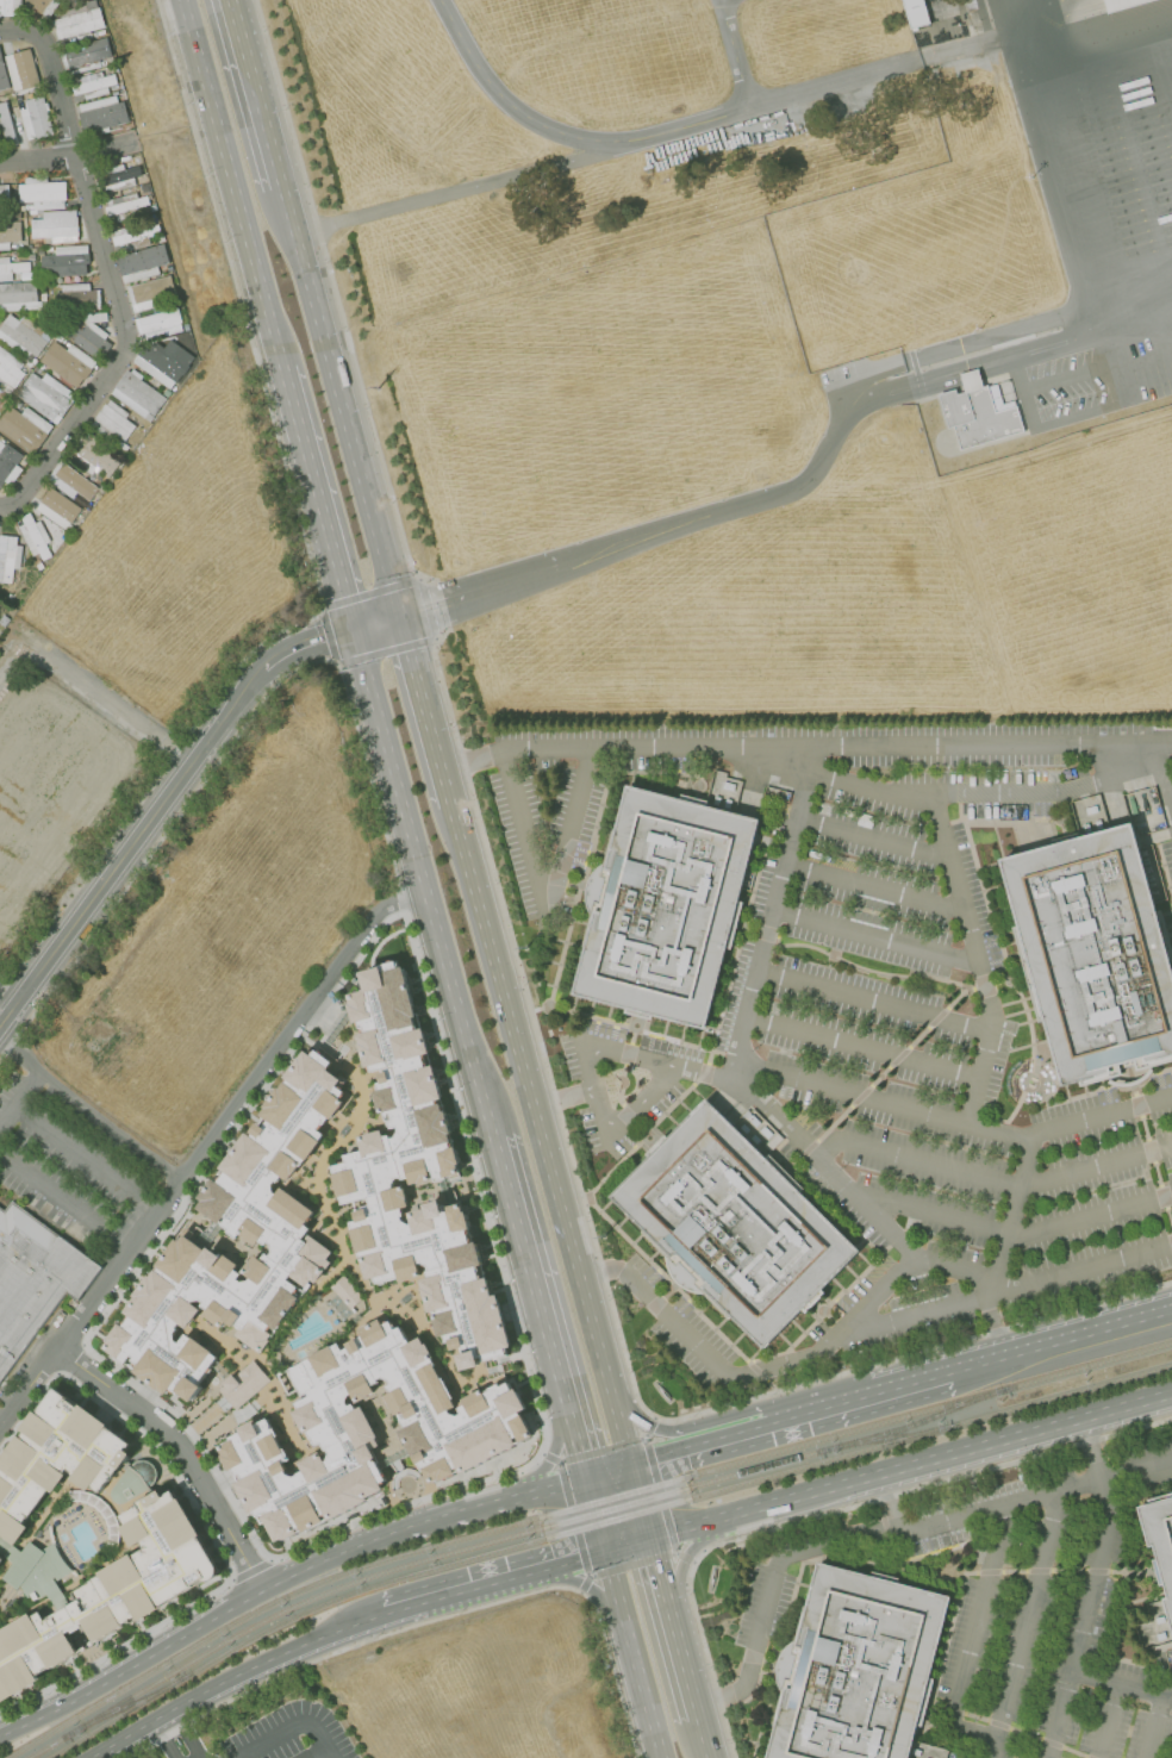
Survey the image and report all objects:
building: (1123, 4)
building: (11, 6)
building: (43, 6)
building: (916, 12)
building: (79, 23)
road: (965, 48)
road: (735, 54)
building: (86, 55)
road: (1098, 57)
building: (23, 69)
building: (4, 75)
road: (50, 75)
road: (1161, 75)
road: (835, 83)
building: (94, 85)
road: (254, 93)
building: (102, 113)
building: (36, 118)
building: (6, 124)
road: (567, 135)
road: (1042, 141)
road: (36, 155)
building: (120, 177)
road: (227, 182)
building: (4, 192)
building: (43, 193)
road: (448, 193)
building: (126, 206)
building: (56, 226)
building: (10, 230)
building: (133, 237)
building: (64, 261)
building: (142, 263)
building: (11, 268)
road: (1128, 268)
building: (151, 293)
building: (19, 295)
building: (77, 297)
road: (1091, 304)
building: (158, 324)
building: (89, 335)
building: (21, 336)
road: (123, 348)
road: (1002, 354)
building: (68, 362)
building: (164, 362)
building: (10, 370)
building: (36, 370)
power tower: (381, 391)
building: (138, 394)
building: (46, 395)
road: (337, 401)
building: (977, 413)
building: (112, 422)
building: (25, 428)
building: (93, 456)
building: (8, 462)
building: (71, 481)
road: (316, 498)
building: (56, 507)
road: (672, 526)
building: (35, 536)
road: (306, 546)
building: (8, 557)
building: (39, 563)
building: (4, 619)
road: (374, 623)
traffic signals: (374, 624)
road: (303, 646)
road: (422, 710)
road: (804, 749)
road: (1162, 778)
road: (1170, 792)
road: (979, 794)
road: (567, 835)
road: (523, 836)
road: (872, 840)
road: (129, 847)
road: (422, 885)
road: (873, 890)
building: (665, 906)
road: (964, 915)
road: (771, 916)
road: (875, 940)
power tower: (525, 948)
building: (1095, 953)
road: (519, 968)
road: (8, 997)
road: (873, 1004)
parking lot: (866, 1009)
road: (311, 1028)
road: (861, 1051)
road: (677, 1070)
road: (979, 1074)
road: (593, 1092)
road: (454, 1093)
road: (562, 1099)
road: (19, 1101)
road: (881, 1104)
road: (640, 1105)
road: (91, 1110)
road: (1102, 1117)
road: (538, 1136)
road: (204, 1147)
road: (85, 1160)
road: (915, 1161)
road: (1096, 1167)
building: (413, 1176)
road: (840, 1183)
road: (64, 1204)
road: (1014, 1210)
road: (935, 1217)
road: (1090, 1221)
building: (734, 1224)
building: (263, 1226)
power tower: (601, 1236)
road: (962, 1274)
building: (33, 1278)
road: (530, 1278)
building: (348, 1292)
road: (1002, 1295)
road: (285, 1328)
road: (1098, 1329)
road: (996, 1358)
road: (518, 1359)
railway: (1091, 1367)
road: (743, 1376)
building: (244, 1384)
road: (279, 1389)
railway: (1062, 1396)
road: (837, 1404)
railway: (915, 1425)
road: (649, 1426)
road: (386, 1428)
road: (655, 1428)
building: (366, 1430)
road: (210, 1435)
railway: (886, 1439)
road: (185, 1448)
road: (576, 1448)
road: (600, 1450)
building: (49, 1455)
road: (669, 1457)
road: (549, 1458)
road: (551, 1458)
road: (910, 1466)
traffic signals: (630, 1470)
road: (606, 1476)
building: (138, 1477)
traffic signals: (584, 1482)
road: (409, 1492)
road: (659, 1495)
road: (516, 1500)
road: (640, 1503)
road: (593, 1517)
road: (573, 1520)
railway: (493, 1532)
railway: (567, 1533)
road: (885, 1535)
traffic signals: (649, 1536)
building: (1160, 1544)
road: (626, 1545)
traffic signals: (604, 1553)
road: (687, 1553)
building: (1, 1556)
road: (684, 1557)
road: (571, 1561)
road: (631, 1564)
railway: (410, 1566)
road: (659, 1569)
road: (992, 1573)
road: (581, 1582)
road: (611, 1582)
road: (797, 1584)
road: (585, 1585)
building: (114, 1586)
road: (466, 1589)
road: (1092, 1589)
parking lot: (1012, 1614)
road: (219, 1616)
road: (429, 1621)
road: (1023, 1625)
road: (970, 1642)
road: (682, 1660)
building: (856, 1667)
road: (241, 1675)
road: (640, 1684)
road: (1116, 1685)
road: (1167, 1695)
railway: (127, 1707)
railway: (124, 1716)
road: (1108, 1722)
road: (1154, 1727)
road: (1004, 1729)
road: (188, 1733)
road: (275, 1734)
road: (703, 1738)
road: (164, 1740)
road: (322, 1744)
road: (326, 1757)

